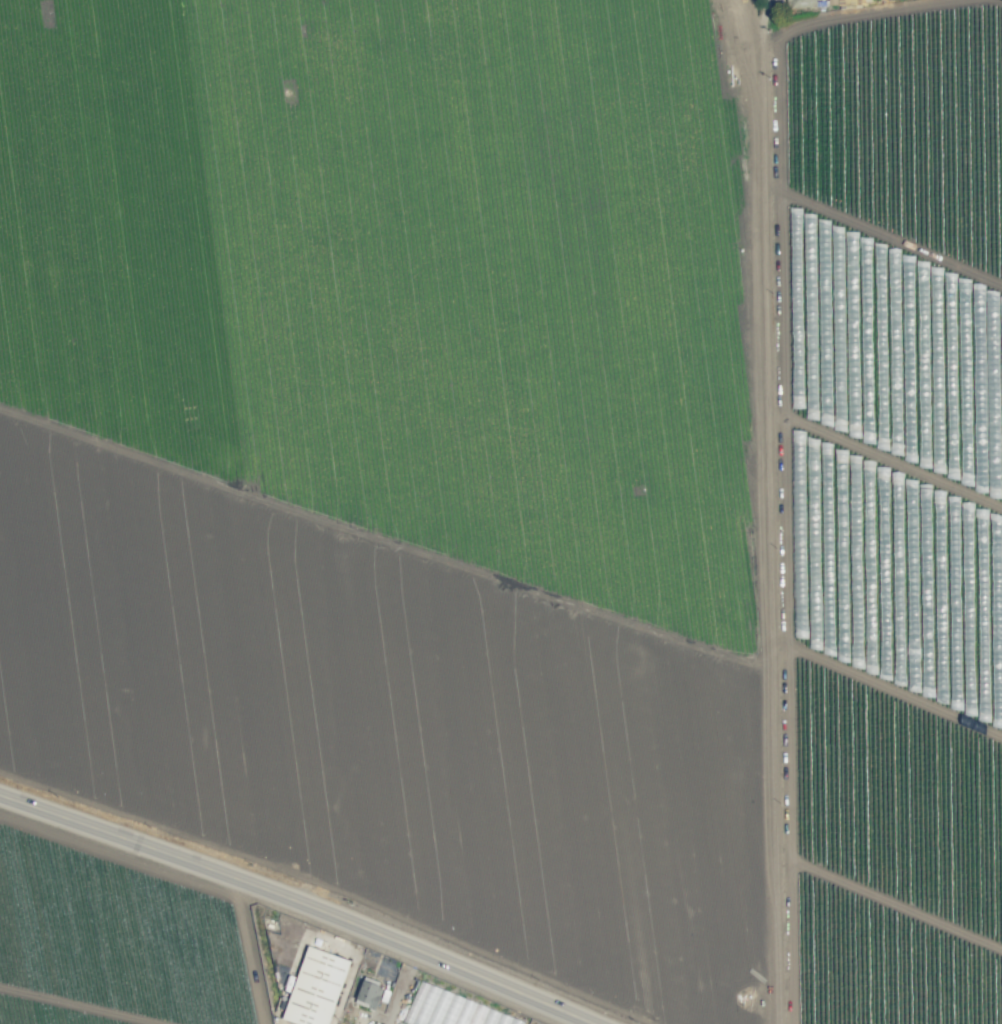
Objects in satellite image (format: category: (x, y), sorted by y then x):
building: (852, 1)
road: (769, 511)
crop: (501, 512)
road: (301, 901)
building: (315, 987)
building: (368, 993)
building: (451, 1009)

